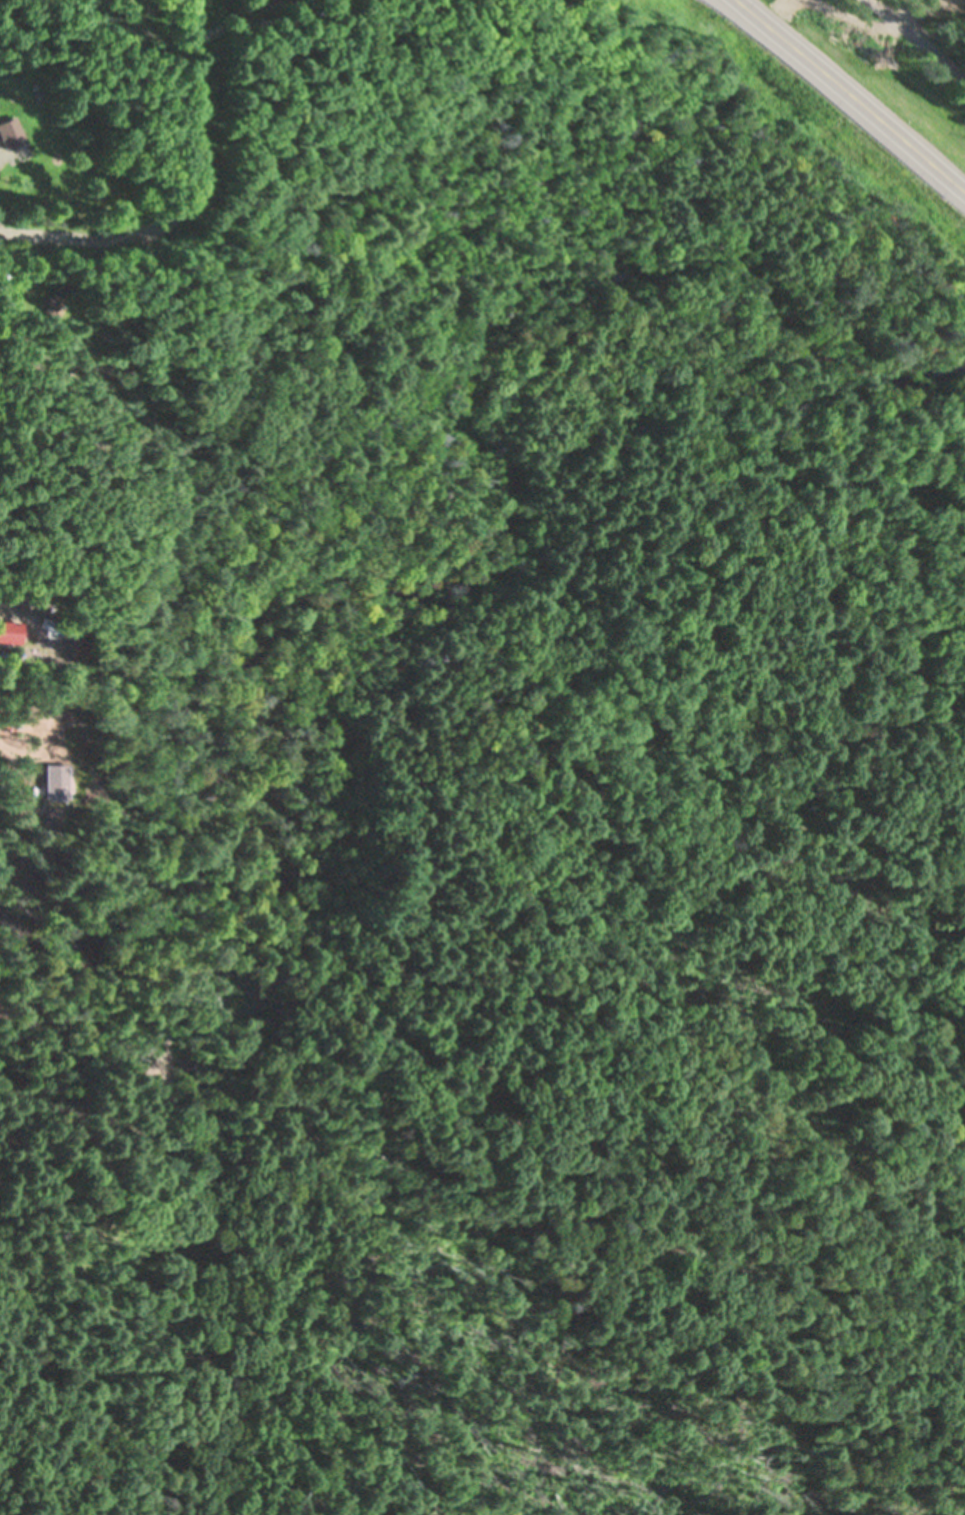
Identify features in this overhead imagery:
road: (915, 40)
road: (850, 99)
building: (9, 133)
building: (62, 138)
road: (184, 199)
building: (54, 298)
building: (2, 301)
building: (80, 535)
building: (50, 547)
river: (452, 598)
building: (57, 627)
building: (76, 781)

